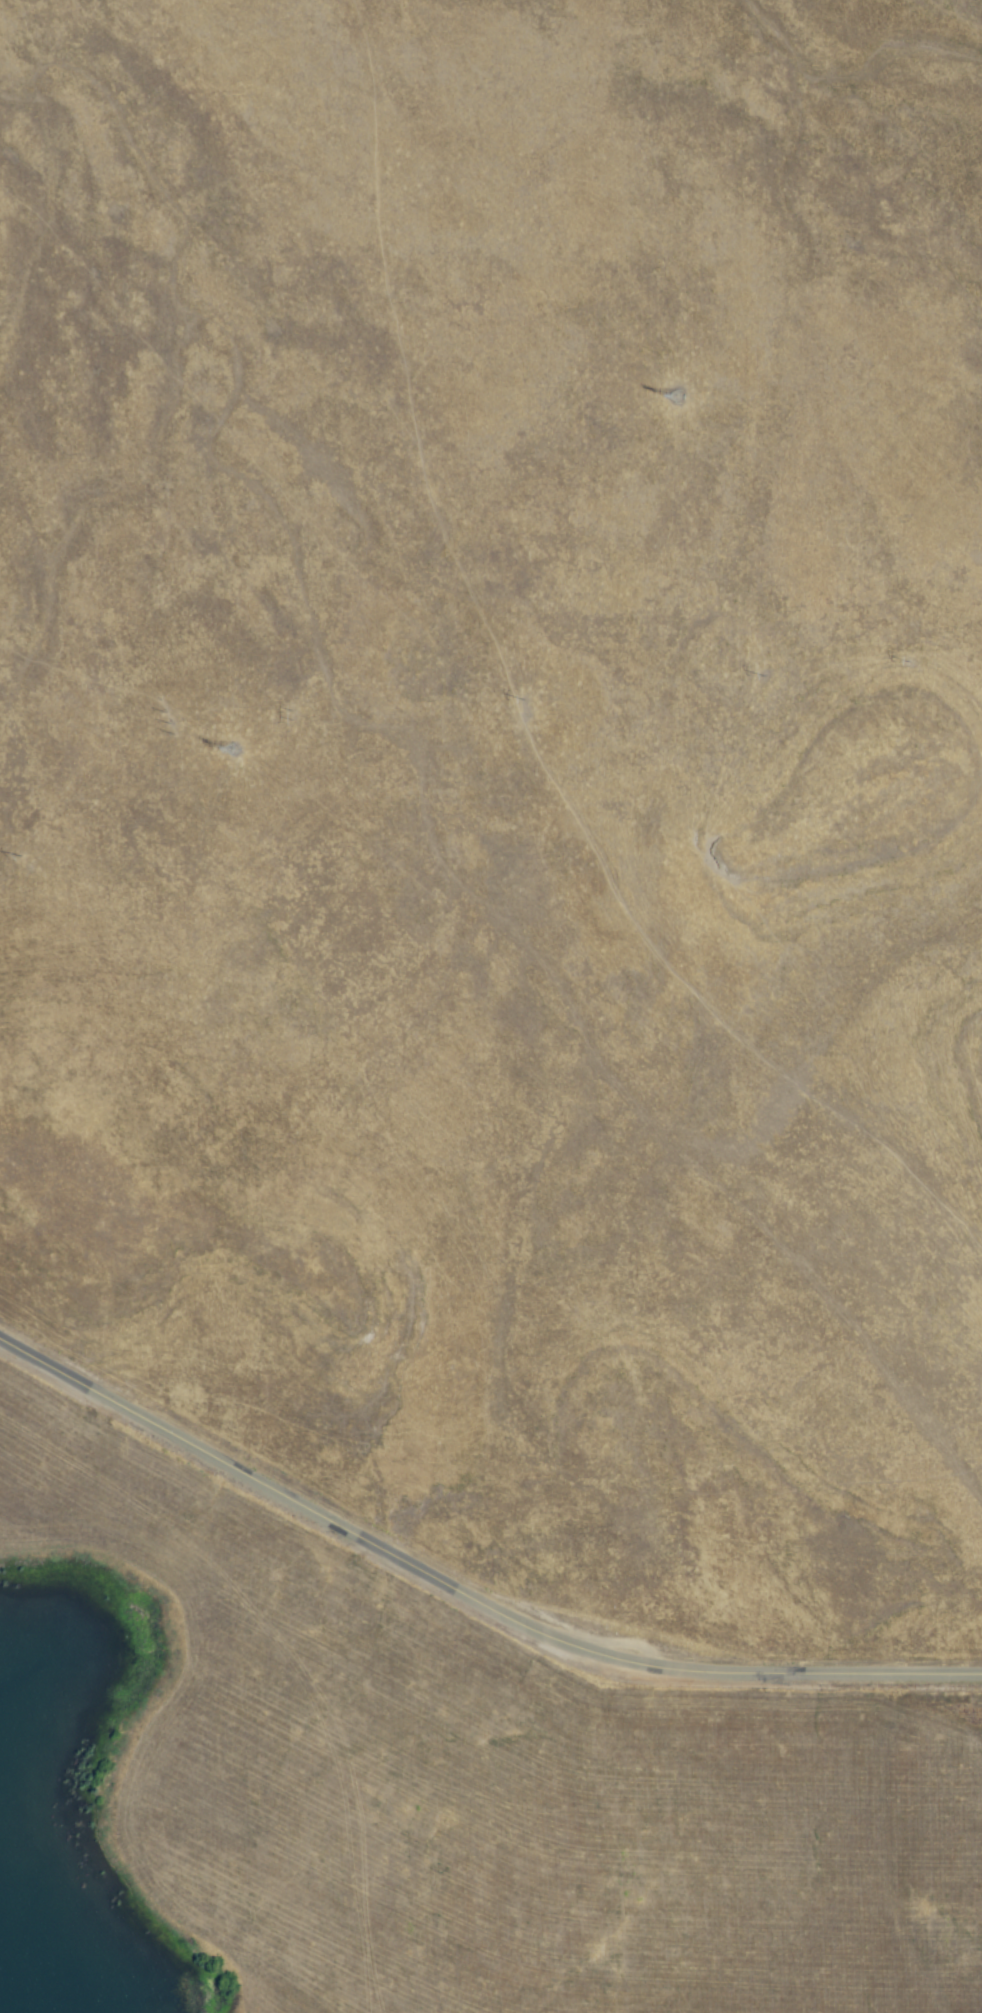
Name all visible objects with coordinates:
power tower: (677, 397)
power tower: (232, 748)
road: (467, 1595)

